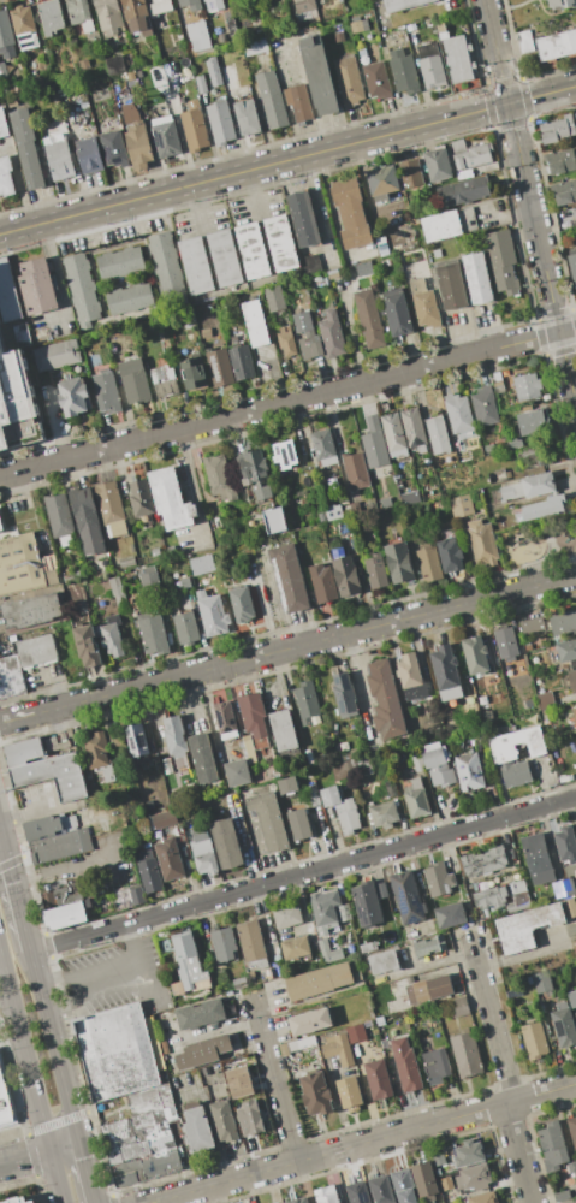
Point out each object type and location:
building: (191, 4)
building: (403, 4)
building: (214, 5)
building: (563, 5)
building: (160, 7)
building: (305, 8)
building: (77, 11)
building: (137, 16)
building: (52, 17)
building: (108, 17)
building: (231, 24)
building: (24, 26)
building: (360, 26)
building: (408, 28)
building: (441, 28)
building: (6, 36)
building: (189, 36)
building: (414, 36)
building: (524, 42)
building: (557, 45)
building: (255, 47)
building: (362, 52)
building: (458, 59)
building: (84, 64)
building: (113, 64)
building: (430, 65)
building: (2, 70)
building: (214, 71)
building: (403, 71)
building: (227, 75)
building: (320, 76)
building: (376, 79)
building: (349, 81)
building: (201, 84)
building: (272, 99)
building: (297, 101)
traffic signals: (507, 103)
building: (575, 114)
building: (247, 117)
building: (221, 123)
building: (4, 124)
building: (557, 129)
building: (195, 130)
building: (136, 136)
building: (166, 136)
building: (113, 148)
building: (26, 149)
building: (58, 154)
building: (469, 154)
building: (89, 155)
road: (287, 160)
building: (560, 161)
building: (438, 165)
building: (411, 174)
building: (6, 177)
building: (382, 180)
road: (19, 184)
road: (251, 191)
building: (463, 191)
building: (564, 192)
road: (530, 205)
road: (198, 206)
building: (350, 212)
building: (575, 212)
building: (303, 219)
building: (447, 224)
building: (280, 242)
building: (251, 250)
building: (224, 257)
building: (503, 261)
building: (120, 262)
building: (309, 262)
building: (166, 265)
building: (196, 266)
building: (572, 266)
building: (477, 278)
building: (451, 285)
building: (37, 286)
building: (81, 290)
building: (7, 294)
building: (274, 298)
building: (129, 300)
building: (424, 304)
building: (397, 312)
building: (368, 319)
building: (255, 322)
building: (332, 334)
building: (22, 336)
building: (286, 340)
building: (310, 345)
building: (55, 355)
building: (242, 362)
building: (220, 367)
building: (194, 373)
building: (135, 381)
building: (164, 381)
building: (495, 381)
building: (528, 386)
building: (106, 391)
building: (73, 397)
building: (17, 403)
road: (287, 403)
building: (485, 407)
building: (458, 414)
building: (532, 421)
building: (414, 429)
building: (394, 434)
building: (438, 434)
building: (515, 442)
building: (374, 443)
building: (323, 446)
building: (489, 446)
building: (285, 454)
building: (525, 454)
building: (355, 470)
building: (256, 474)
building: (497, 475)
building: (219, 478)
road: (195, 486)
building: (530, 486)
building: (170, 498)
building: (410, 498)
building: (141, 500)
building: (386, 503)
building: (461, 505)
building: (354, 506)
building: (111, 508)
building: (541, 508)
building: (333, 512)
building: (59, 517)
building: (87, 520)
building: (274, 520)
building: (344, 526)
building: (1, 527)
park: (535, 541)
building: (483, 545)
building: (450, 553)
building: (22, 561)
building: (126, 562)
building: (399, 562)
building: (200, 564)
building: (429, 564)
building: (375, 571)
building: (345, 573)
building: (78, 574)
building: (150, 577)
building: (289, 579)
building: (322, 582)
building: (118, 592)
building: (183, 604)
building: (242, 604)
building: (30, 611)
building: (213, 615)
building: (563, 622)
building: (532, 626)
building: (185, 628)
building: (97, 630)
building: (152, 634)
building: (112, 636)
building: (506, 644)
building: (87, 645)
road: (287, 648)
building: (36, 650)
building: (566, 652)
building: (475, 654)
building: (446, 672)
building: (412, 676)
building: (11, 677)
road: (279, 680)
building: (572, 680)
building: (344, 695)
building: (386, 699)
building: (545, 700)
building: (305, 701)
building: (574, 715)
road: (143, 716)
building: (254, 718)
building: (226, 719)
building: (283, 730)
building: (174, 736)
building: (114, 737)
building: (137, 742)
building: (516, 745)
building: (249, 748)
building: (23, 751)
building: (99, 754)
building: (202, 758)
building: (417, 763)
building: (438, 764)
building: (362, 766)
building: (237, 772)
building: (470, 772)
building: (516, 772)
building: (53, 775)
building: (287, 786)
building: (313, 795)
building: (416, 798)
building: (342, 808)
building: (384, 814)
building: (165, 819)
building: (268, 820)
building: (298, 823)
building: (42, 828)
road: (1, 837)
road: (1, 842)
traffic signals: (2, 842)
building: (226, 842)
building: (565, 845)
building: (60, 846)
building: (203, 854)
building: (168, 858)
building: (538, 858)
parking lot: (119, 860)
building: (483, 861)
road: (76, 867)
building: (148, 871)
road: (302, 873)
building: (438, 879)
building: (569, 885)
building: (517, 887)
building: (558, 889)
building: (381, 890)
building: (129, 895)
road: (16, 896)
building: (406, 896)
building: (60, 897)
building: (491, 897)
building: (367, 903)
building: (570, 907)
building: (325, 909)
building: (344, 912)
building: (65, 915)
building: (287, 915)
building: (450, 915)
building: (525, 926)
building: (250, 941)
building: (224, 944)
building: (426, 946)
building: (295, 947)
building: (368, 947)
building: (326, 948)
building: (382, 961)
building: (190, 965)
road: (133, 970)
parking lot: (111, 977)
building: (220, 977)
building: (319, 982)
building: (542, 982)
road: (84, 983)
building: (396, 985)
building: (439, 986)
building: (420, 989)
building: (410, 992)
building: (571, 997)
building: (458, 1007)
building: (200, 1014)
building: (575, 1014)
building: (310, 1021)
road: (492, 1023)
building: (563, 1027)
building: (356, 1032)
building: (534, 1039)
building: (301, 1043)
road: (53, 1047)
building: (339, 1049)
building: (284, 1050)
building: (119, 1051)
building: (203, 1053)
building: (465, 1054)
building: (437, 1065)
building: (408, 1069)
road: (31, 1074)
building: (378, 1078)
road: (275, 1079)
building: (238, 1081)
building: (349, 1091)
building: (315, 1094)
building: (4, 1104)
building: (247, 1109)
building: (224, 1120)
building: (571, 1130)
building: (197, 1131)
building: (144, 1137)
road: (361, 1143)
road: (64, 1146)
building: (551, 1146)
road: (518, 1152)
building: (468, 1154)
road: (25, 1157)
building: (572, 1169)
road: (84, 1173)
building: (475, 1177)
building: (424, 1179)
building: (403, 1184)
building: (381, 1189)
building: (357, 1192)
building: (326, 1195)
building: (562, 1196)
building: (482, 1197)
building: (298, 1199)
building: (20, 1201)
building: (569, 1201)
building: (34, 1202)

